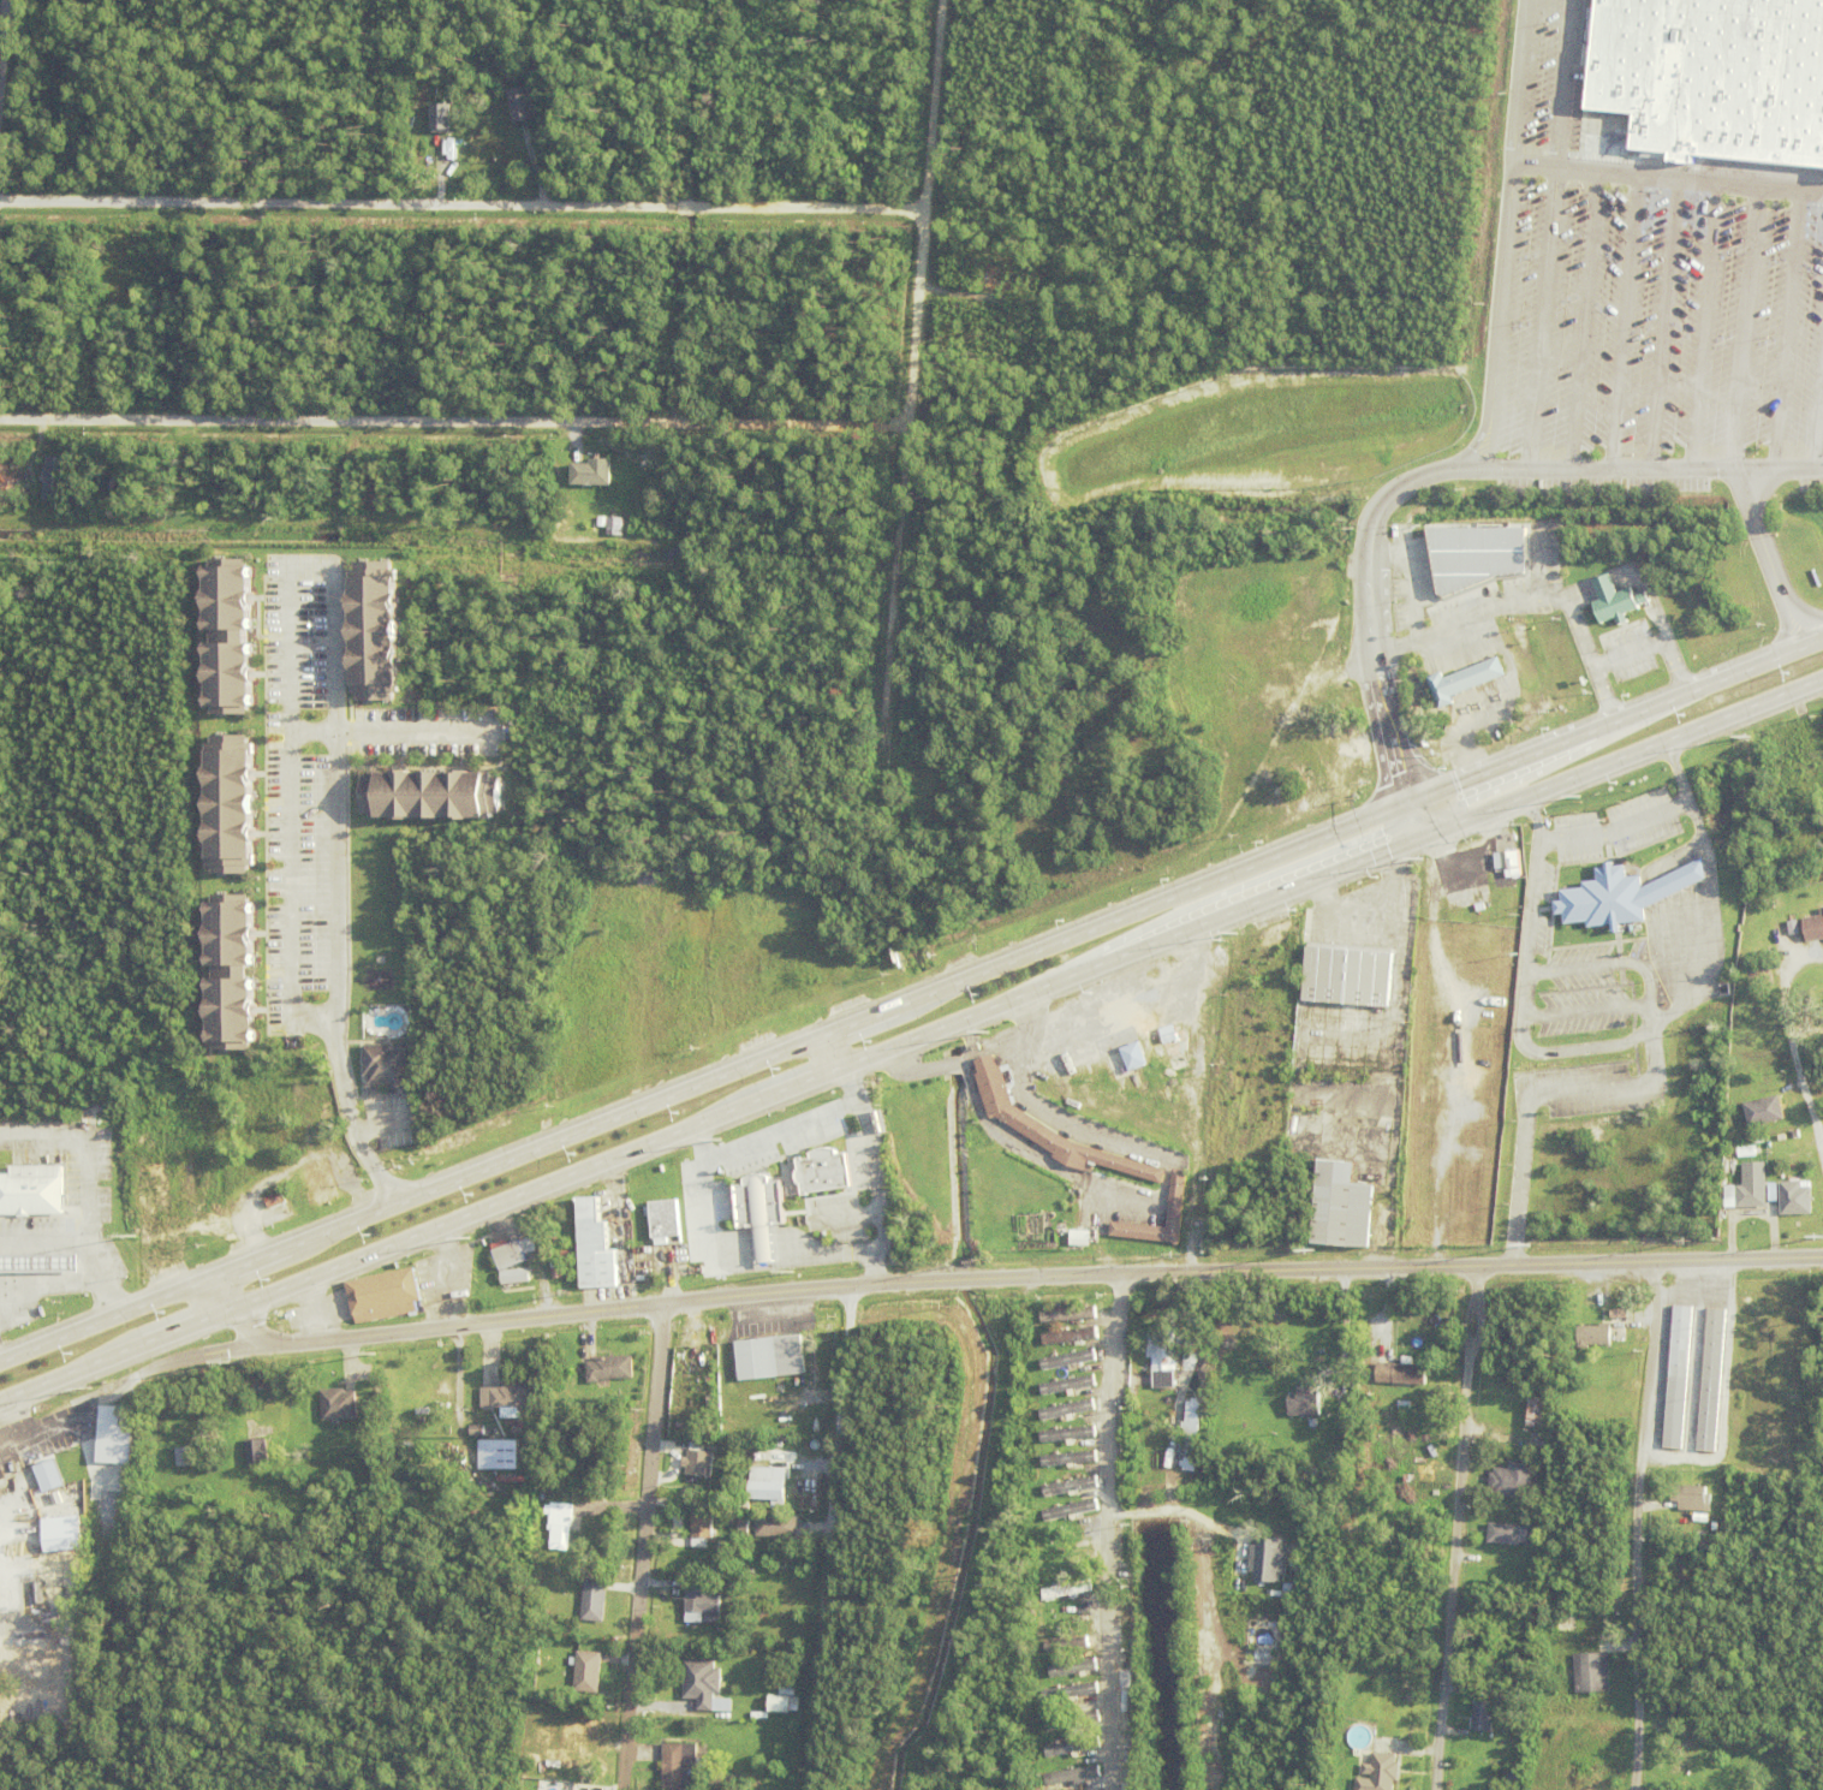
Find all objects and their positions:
road: (7, 73)
building: (454, 78)
building: (1716, 78)
road: (2, 91)
building: (524, 103)
building: (441, 115)
building: (419, 133)
building: (537, 135)
road: (1667, 178)
road: (465, 208)
road: (1505, 236)
building: (156, 238)
building: (130, 249)
road: (1541, 319)
road: (1580, 320)
road: (1622, 322)
road: (1662, 323)
road: (1702, 326)
road: (1742, 327)
road: (1785, 329)
parking lot: (1651, 341)
building: (97, 345)
road: (919, 405)
road: (1817, 405)
road: (459, 424)
building: (565, 470)
road: (1444, 471)
building: (592, 472)
building: (106, 475)
building: (48, 477)
building: (35, 478)
building: (11, 480)
building: (562, 495)
building: (601, 521)
building: (591, 523)
building: (613, 524)
building: (630, 525)
building: (1476, 554)
road: (1770, 557)
building: (1615, 600)
building: (939, 603)
road: (333, 623)
building: (371, 631)
building: (945, 635)
building: (226, 640)
building: (1465, 679)
road: (395, 732)
building: (429, 795)
building: (227, 804)
road: (1416, 822)
building: (1513, 863)
building: (647, 879)
building: (1622, 897)
building: (948, 909)
building: (1822, 911)
building: (1813, 928)
building: (228, 976)
building: (1348, 979)
road: (912, 1001)
building: (174, 1036)
building: (1154, 1047)
road: (912, 1049)
building: (1134, 1058)
road: (826, 1061)
building: (386, 1064)
building: (173, 1072)
building: (1120, 1072)
road: (1810, 1108)
building: (1763, 1111)
building: (279, 1124)
building: (209, 1130)
building: (1050, 1131)
building: (1782, 1138)
building: (243, 1140)
building: (278, 1141)
building: (1767, 1155)
building: (168, 1165)
building: (848, 1167)
building: (822, 1171)
building: (1115, 1185)
building: (322, 1187)
building: (1753, 1188)
building: (31, 1189)
building: (1250, 1193)
building: (1178, 1197)
building: (1795, 1200)
building: (1732, 1201)
building: (278, 1202)
building: (758, 1211)
building: (1344, 1211)
building: (1303, 1215)
building: (665, 1223)
building: (886, 1231)
building: (1080, 1239)
building: (1121, 1247)
building: (596, 1249)
building: (1146, 1251)
building: (516, 1254)
building: (54, 1263)
building: (558, 1272)
building: (517, 1279)
road: (1002, 1283)
building: (386, 1297)
building: (1592, 1313)
building: (1076, 1316)
building: (1622, 1320)
building: (1071, 1337)
building: (1595, 1337)
building: (1758, 1345)
building: (1782, 1346)
building: (530, 1357)
building: (1163, 1357)
building: (770, 1361)
building: (1072, 1362)
building: (571, 1366)
building: (610, 1370)
building: (1401, 1375)
building: (1309, 1379)
building: (1679, 1379)
building: (1712, 1382)
building: (1071, 1386)
building: (1150, 1393)
building: (1173, 1394)
building: (512, 1399)
building: (1306, 1404)
building: (340, 1407)
building: (425, 1413)
building: (1065, 1413)
building: (276, 1415)
building: (1541, 1415)
building: (1192, 1422)
building: (1313, 1426)
building: (489, 1429)
building: (114, 1434)
building: (523, 1435)
building: (1070, 1437)
building: (1543, 1443)
building: (722, 1445)
building: (531, 1449)
building: (258, 1455)
building: (508, 1457)
building: (162, 1458)
building: (186, 1458)
building: (1072, 1462)
building: (699, 1465)
building: (769, 1476)
building: (50, 1477)
building: (513, 1481)
building: (1514, 1483)
building: (1071, 1488)
building: (769, 1494)
building: (114, 1500)
building: (1692, 1500)
building: (689, 1503)
road: (1179, 1509)
building: (1070, 1512)
building: (703, 1524)
building: (561, 1527)
building: (744, 1528)
road: (1670, 1528)
building: (778, 1529)
road: (1465, 1529)
road: (1110, 1533)
building: (1514, 1536)
road: (834, 1540)
building: (1071, 1541)
building: (250, 1544)
road: (650, 1548)
building: (727, 1551)
building: (1265, 1559)
building: (1078, 1563)
building: (1684, 1569)
building: (1526, 1570)
building: (716, 1588)
building: (1076, 1590)
building: (594, 1601)
building: (704, 1606)
building: (1077, 1614)
building: (1082, 1639)
building: (1084, 1666)
building: (588, 1675)
building: (1592, 1675)
building: (703, 1684)
building: (1070, 1690)
building: (1067, 1697)
building: (782, 1700)
building: (1484, 1720)
building: (1071, 1726)
building: (1073, 1749)
building: (684, 1768)
building: (1381, 1774)
building: (1076, 1776)
building: (744, 1785)

